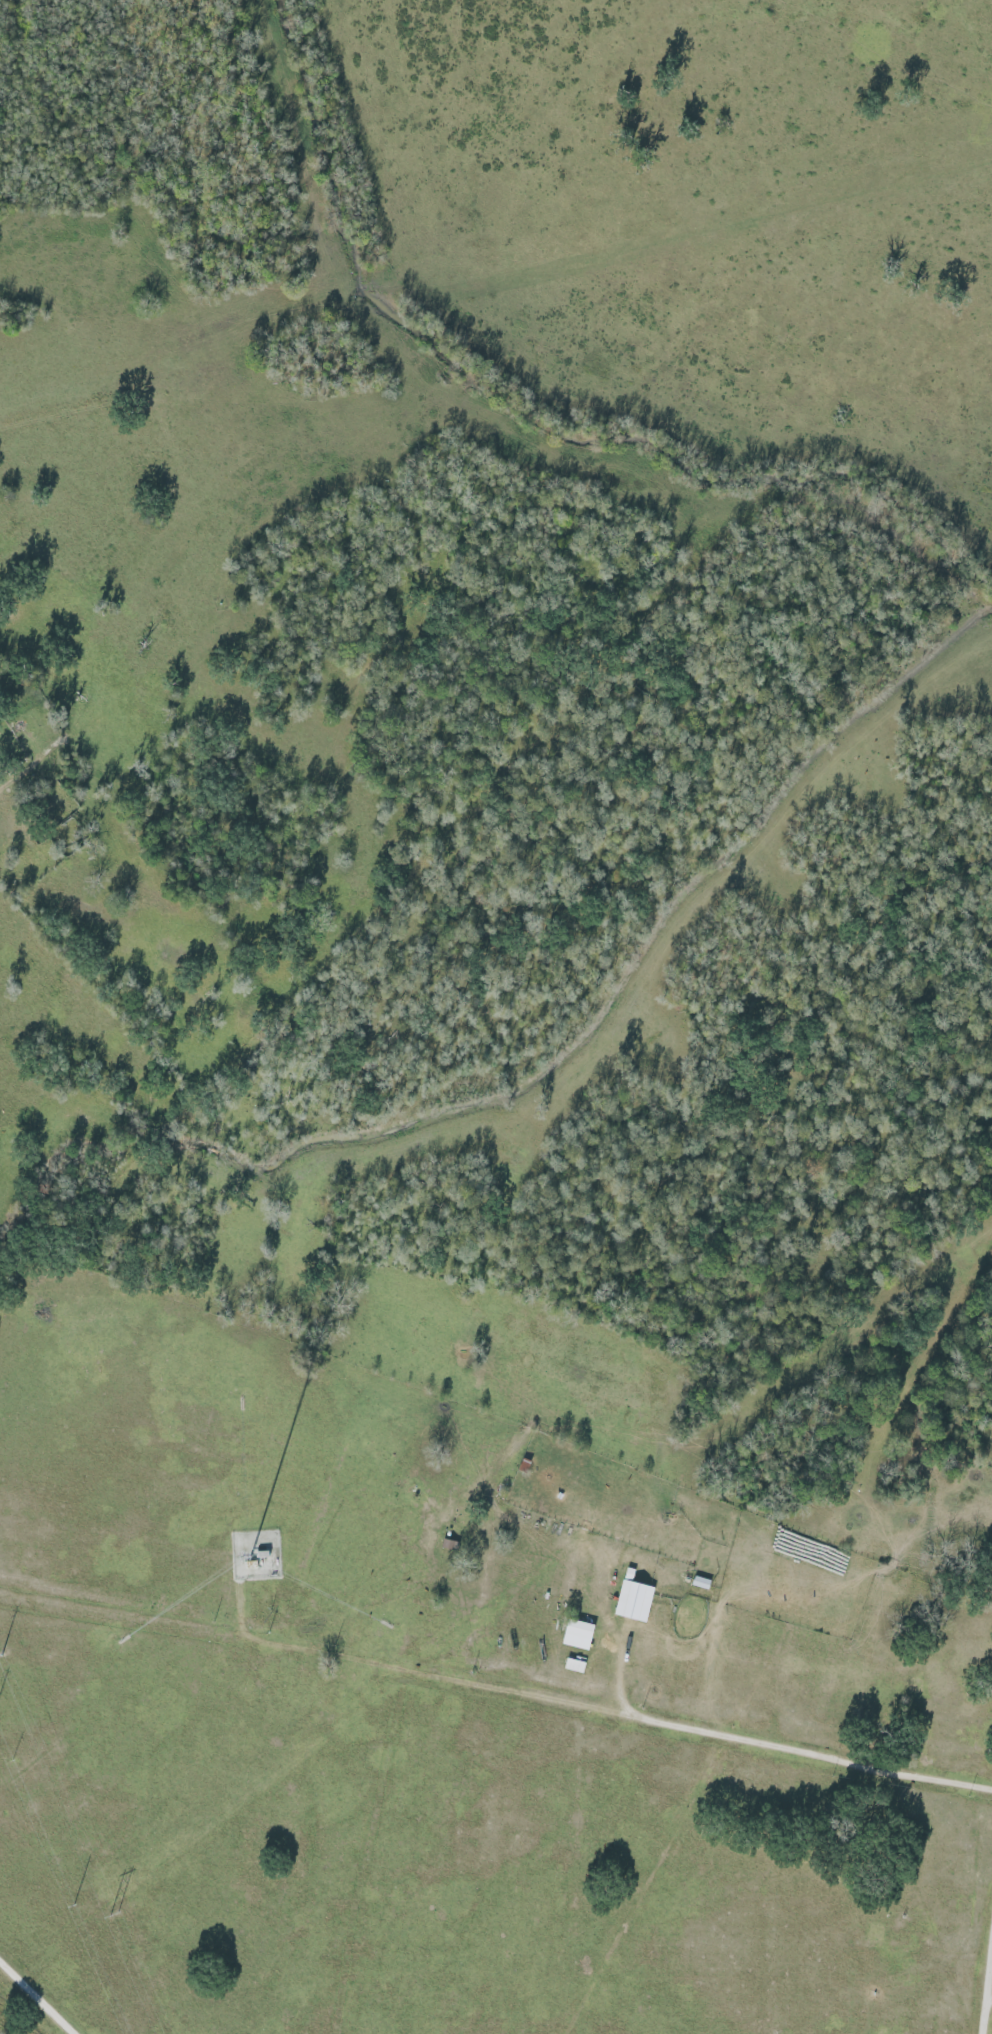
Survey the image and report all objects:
building: (630, 1599)
building: (573, 1635)
power tower: (1, 1657)
road: (778, 1749)
power tower: (113, 1915)
road: (39, 1994)
road: (989, 2010)

